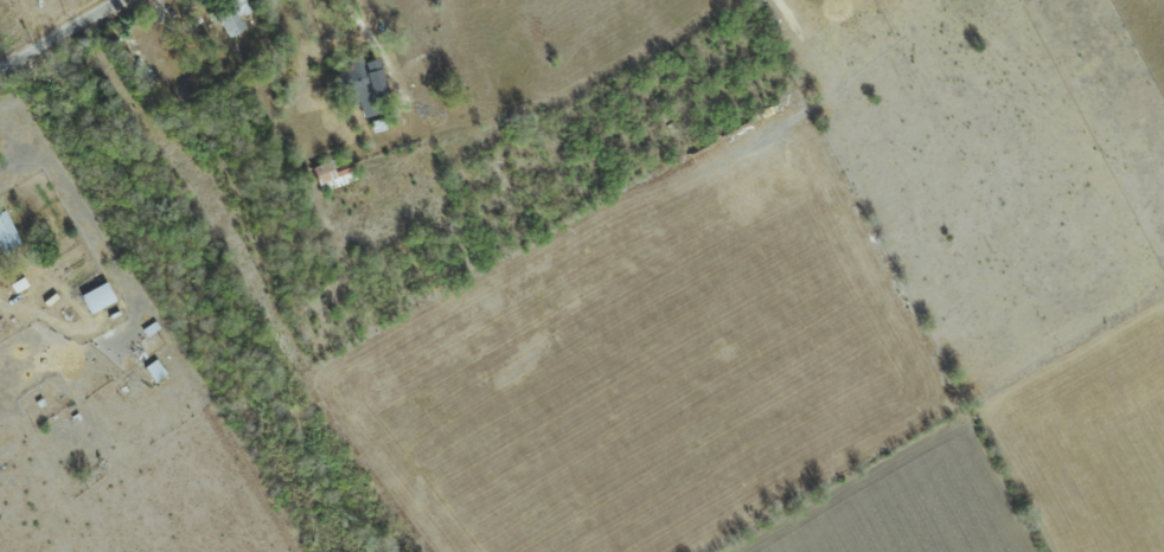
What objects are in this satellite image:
building: (231, 15)
road: (62, 34)
road: (383, 60)
building: (6, 235)
building: (94, 297)

